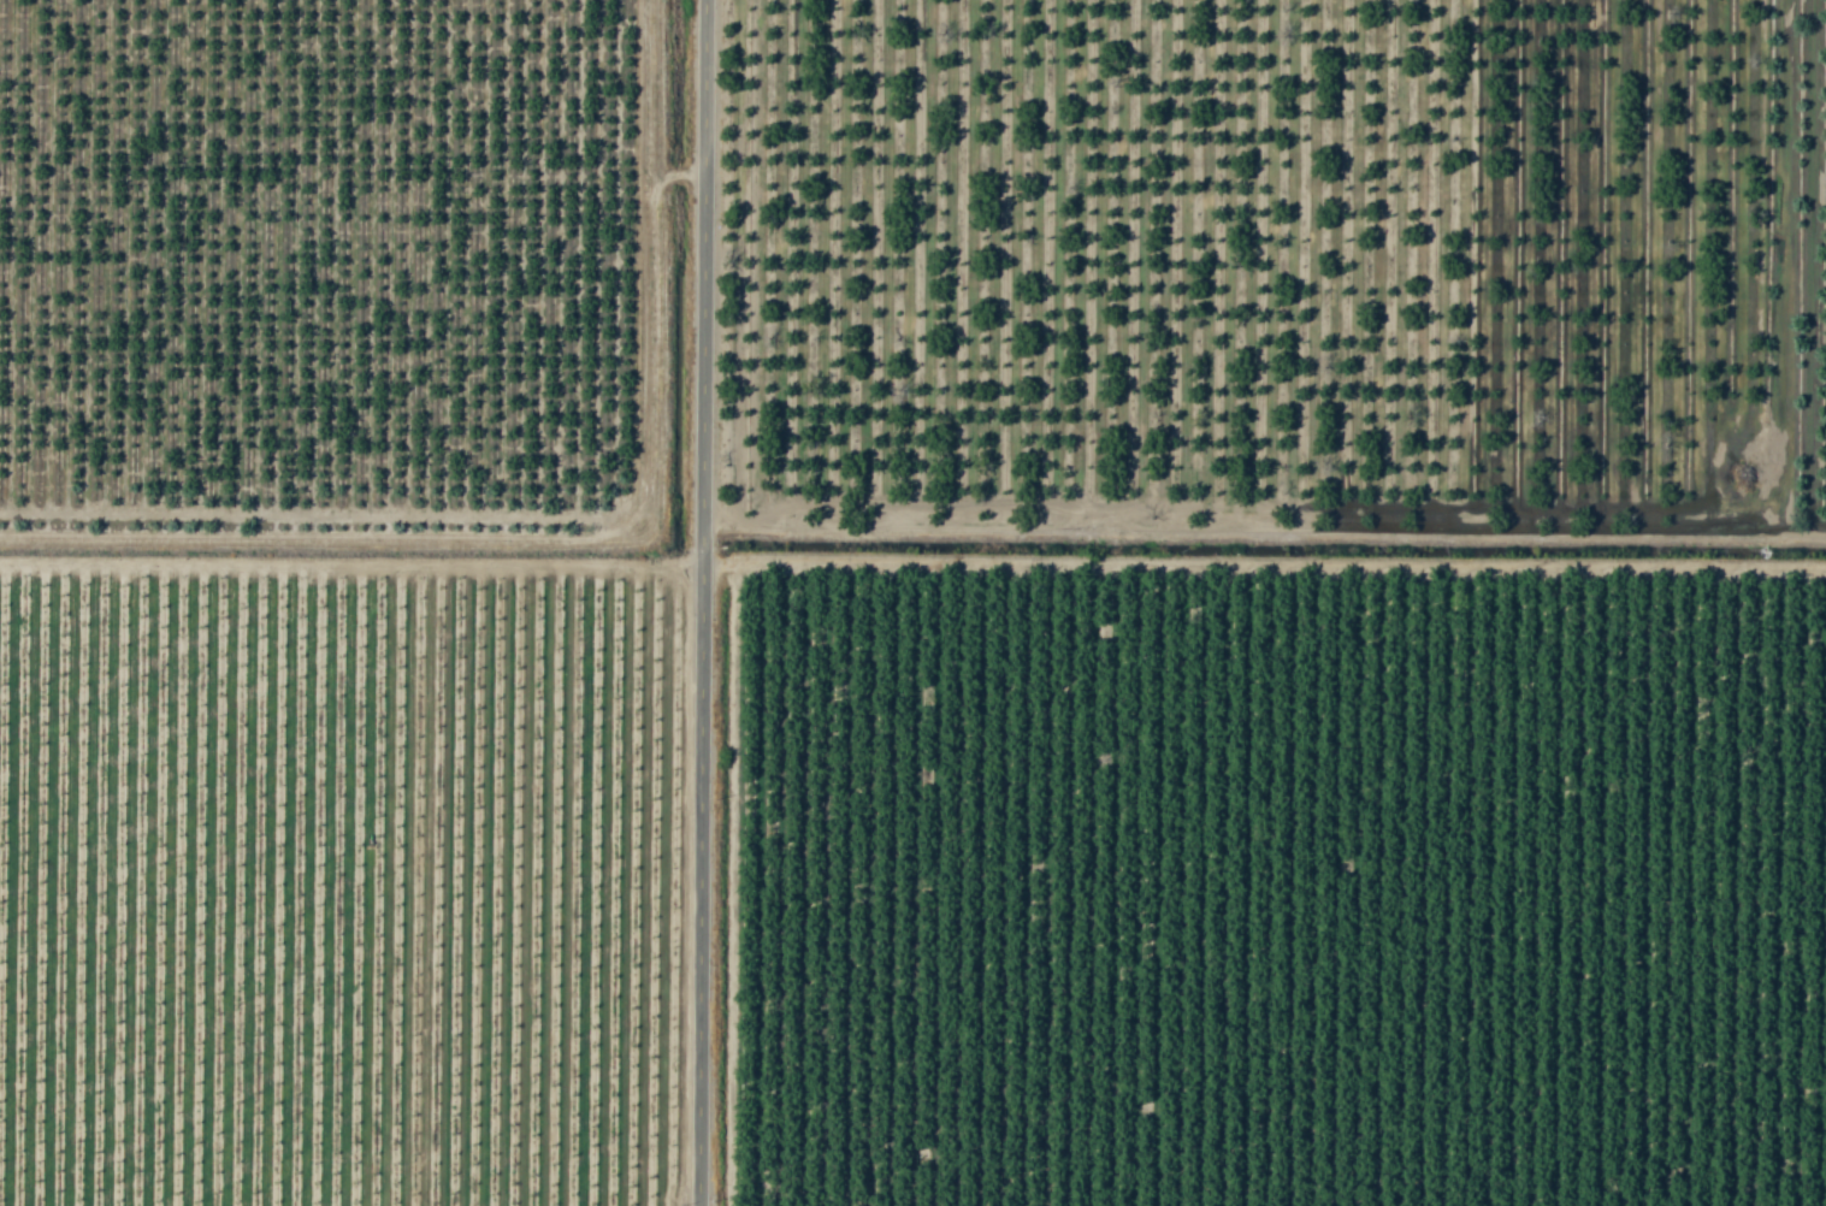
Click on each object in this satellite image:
road: (710, 602)

